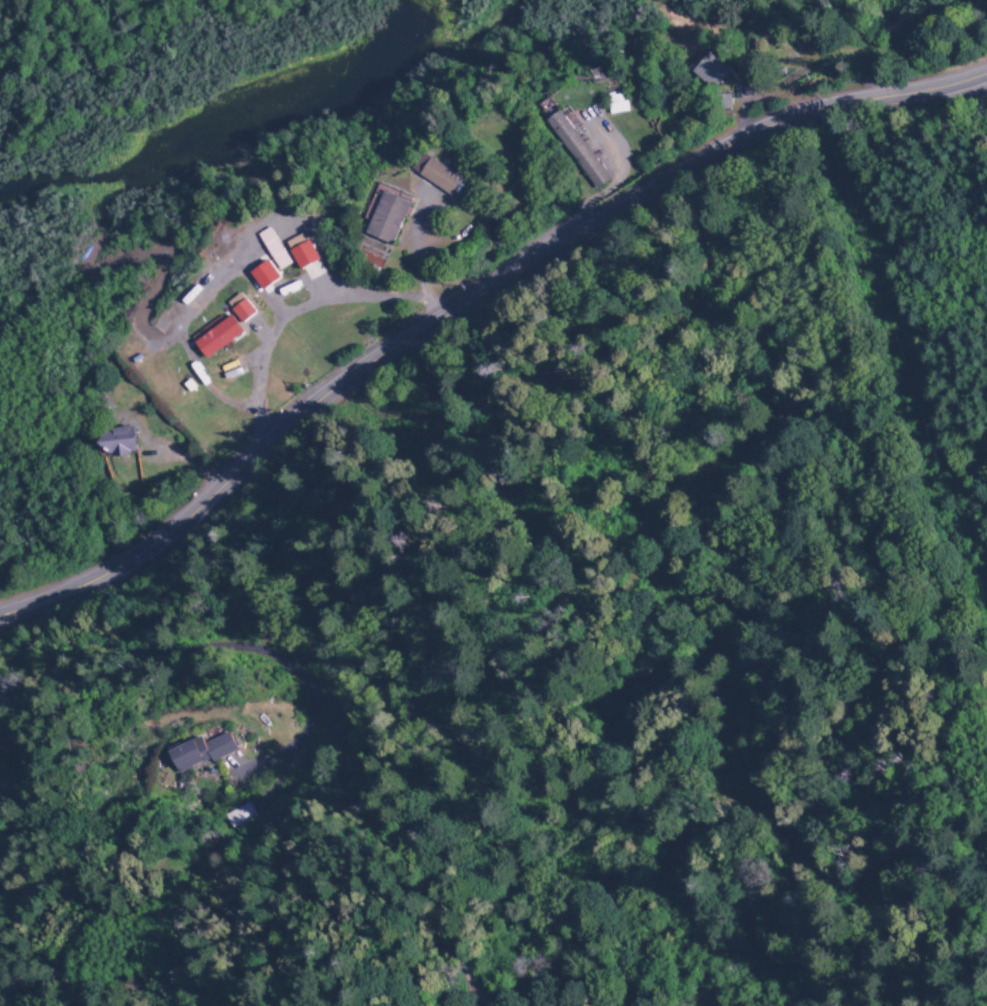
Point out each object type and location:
building: (711, 70)
building: (617, 103)
building: (577, 147)
building: (444, 179)
building: (392, 220)
building: (274, 247)
building: (304, 253)
building: (265, 274)
road: (467, 299)
road: (296, 312)
building: (233, 333)
building: (122, 444)
road: (217, 656)
building: (205, 755)
building: (240, 819)
road: (249, 880)

